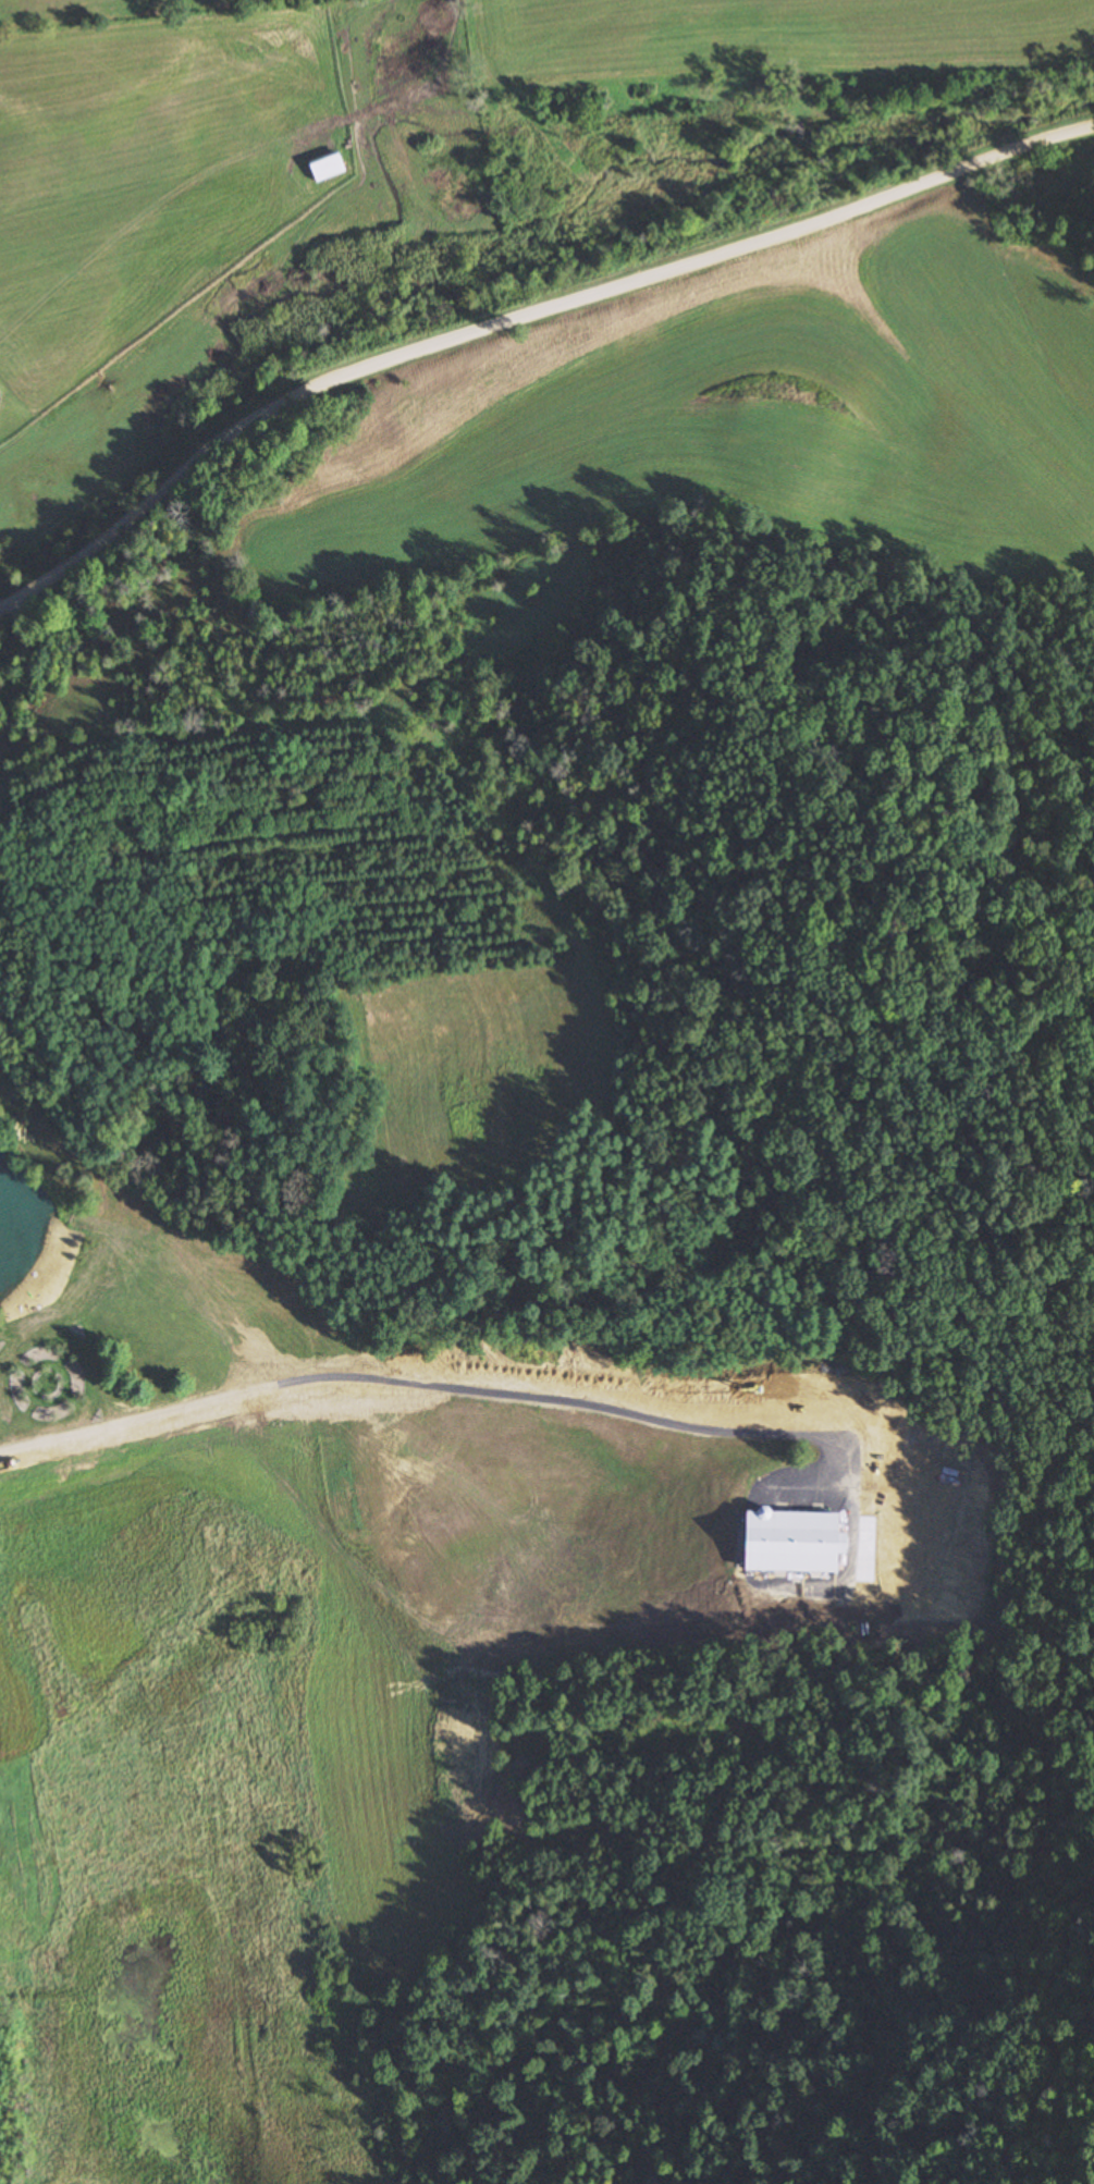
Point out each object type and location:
building: (330, 167)
road: (523, 319)
building: (797, 1541)

